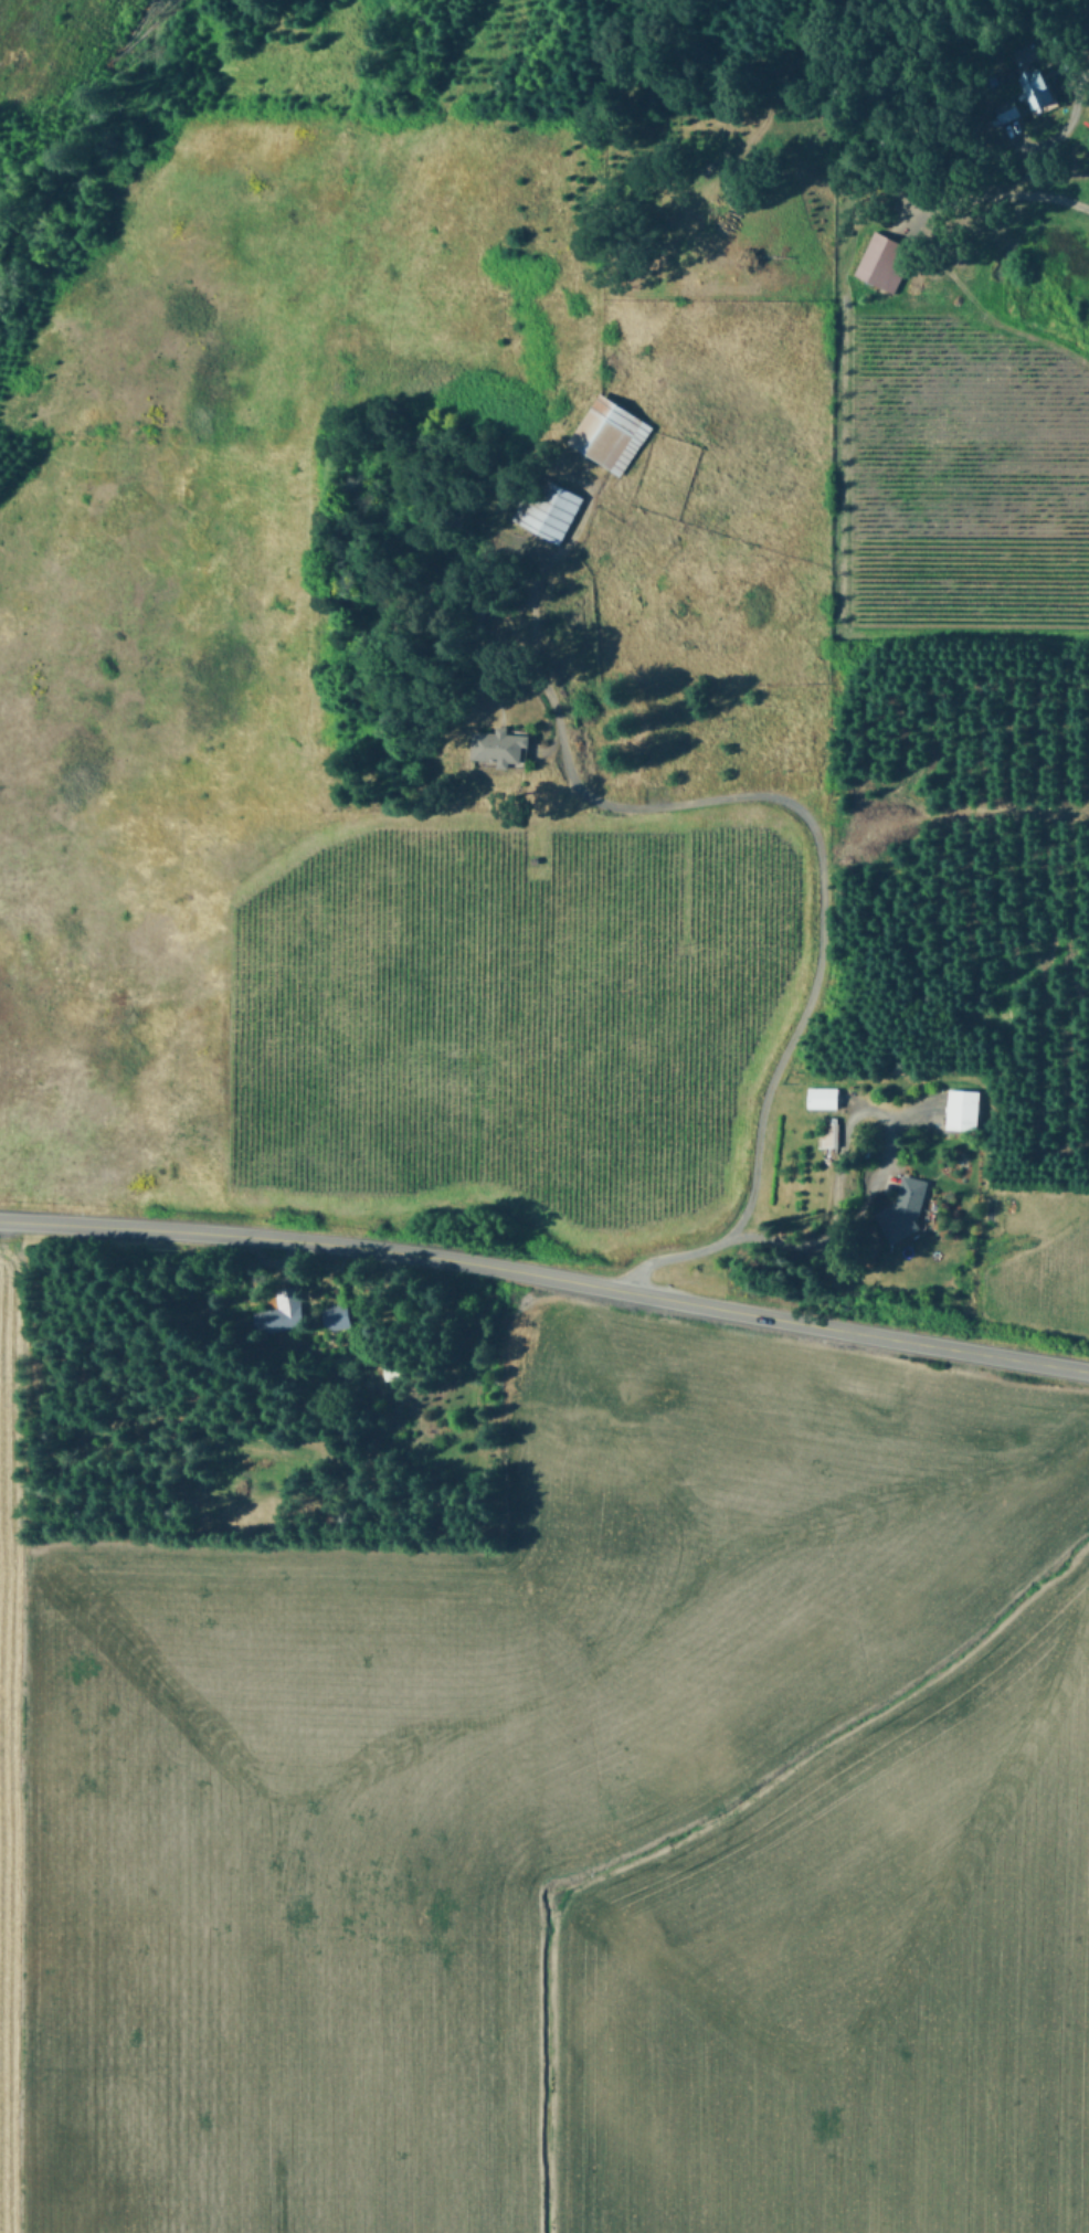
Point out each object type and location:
road: (1087, 0)
building: (1039, 88)
road: (1066, 207)
building: (885, 261)
building: (613, 432)
building: (557, 511)
crop: (588, 721)
building: (508, 744)
road: (821, 878)
building: (823, 1097)
building: (962, 1109)
building: (831, 1134)
road: (837, 1173)
building: (907, 1205)
road: (547, 1276)
building: (284, 1314)
building: (338, 1315)
crop: (528, 1771)

